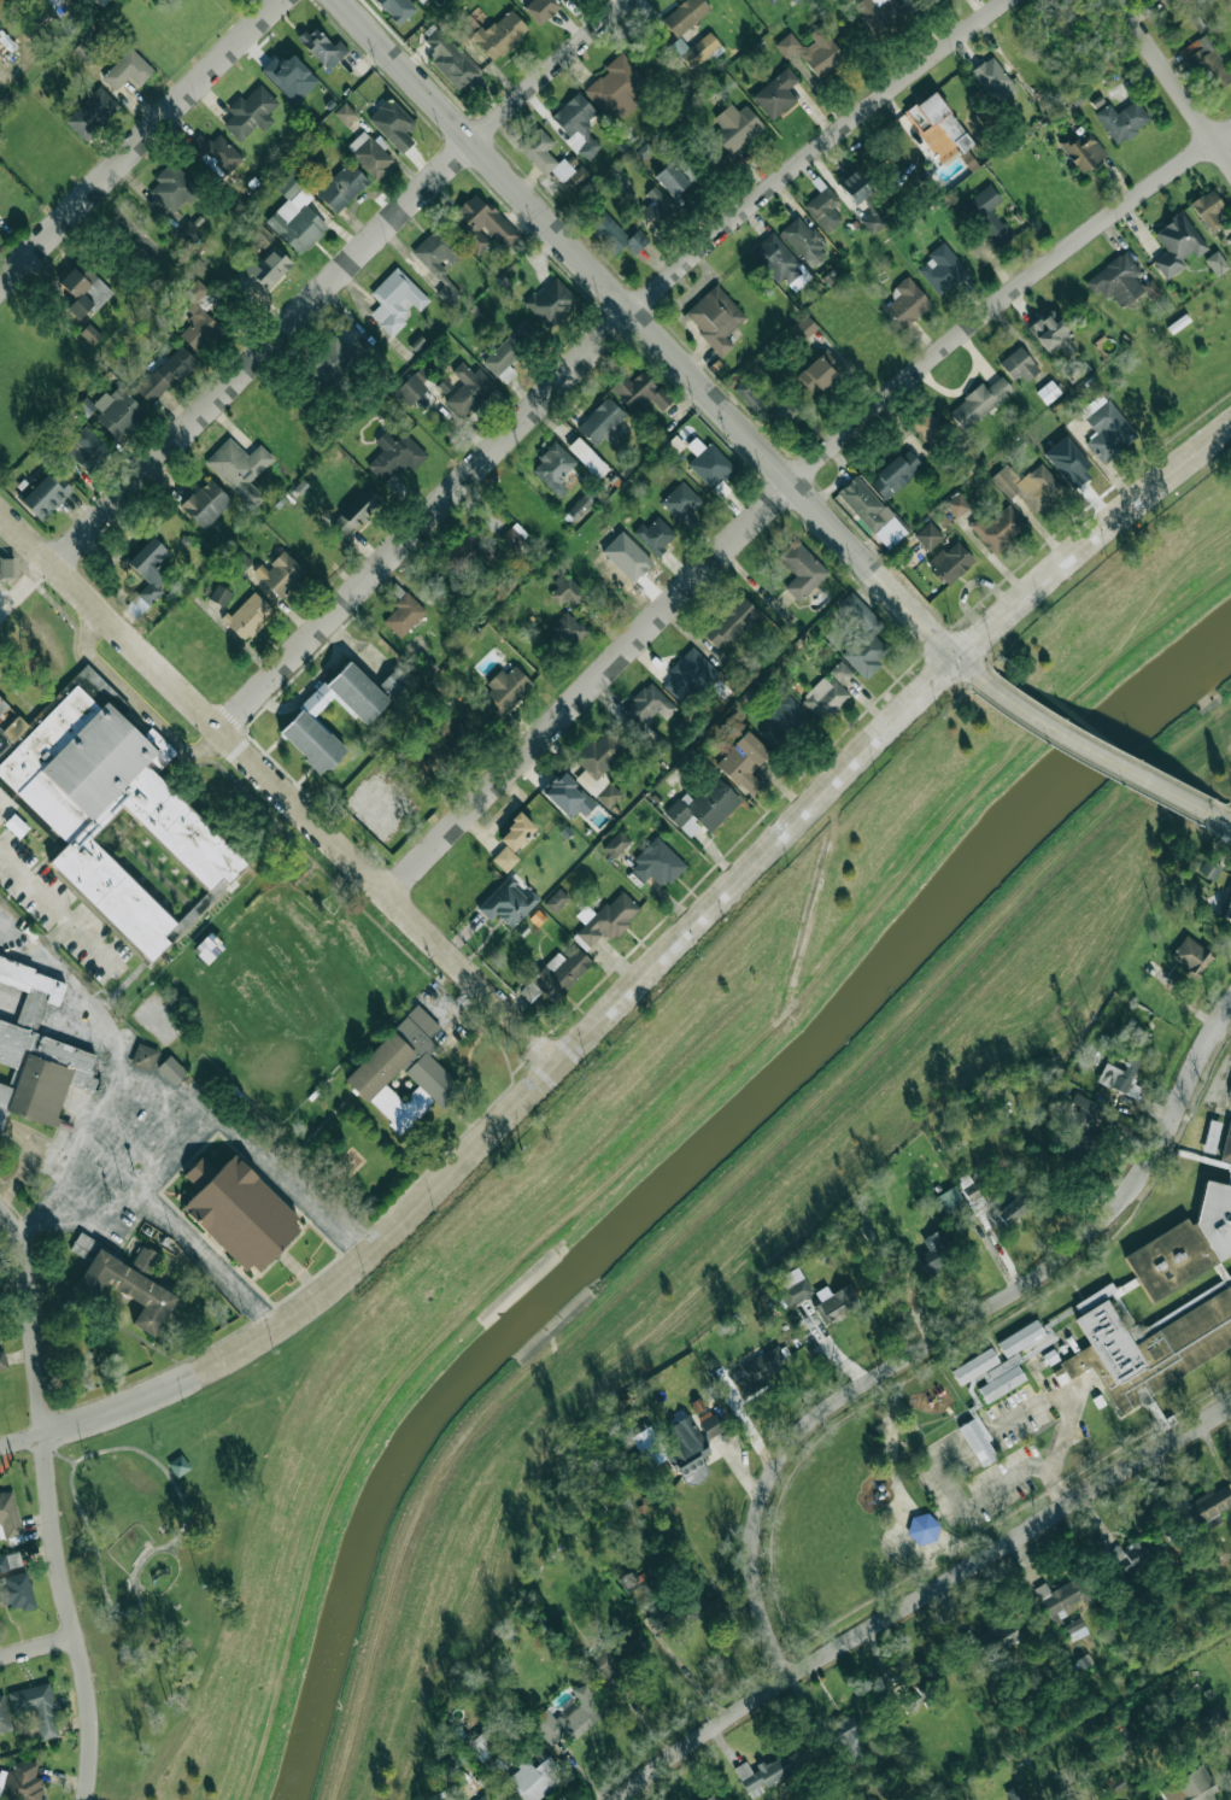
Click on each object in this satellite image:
building: (99, 1)
building: (770, 1)
building: (52, 2)
building: (1165, 2)
building: (398, 7)
building: (540, 8)
building: (877, 12)
building: (685, 14)
building: (491, 33)
building: (87, 47)
building: (322, 47)
building: (701, 49)
building: (813, 51)
building: (449, 58)
building: (1208, 61)
building: (127, 69)
building: (289, 76)
building: (993, 80)
road: (1174, 80)
building: (775, 93)
building: (92, 112)
building: (250, 112)
building: (345, 113)
building: (938, 119)
building: (1121, 119)
building: (392, 123)
building: (576, 124)
building: (735, 127)
road: (140, 143)
building: (216, 151)
building: (1081, 151)
building: (369, 154)
building: (550, 159)
building: (670, 178)
building: (855, 184)
building: (341, 187)
building: (172, 188)
building: (656, 206)
building: (823, 207)
building: (1207, 210)
building: (989, 212)
building: (295, 216)
building: (873, 222)
building: (481, 224)
building: (188, 231)
building: (612, 231)
building: (803, 239)
building: (1176, 244)
building: (775, 259)
building: (440, 262)
building: (1215, 262)
building: (942, 268)
building: (262, 270)
road: (335, 275)
building: (1119, 281)
building: (82, 289)
building: (395, 300)
building: (551, 301)
building: (905, 303)
building: (199, 316)
building: (714, 317)
building: (802, 328)
building: (1051, 333)
building: (90, 334)
road: (661, 340)
road: (598, 346)
building: (510, 350)
building: (333, 359)
building: (1020, 365)
building: (820, 373)
building: (165, 374)
building: (412, 386)
building: (468, 388)
building: (640, 392)
building: (1048, 392)
building: (978, 401)
building: (764, 405)
building: (117, 411)
building: (600, 421)
building: (926, 426)
building: (1106, 428)
building: (86, 448)
building: (394, 455)
building: (587, 457)
building: (709, 465)
building: (239, 468)
building: (552, 468)
building: (895, 473)
road: (787, 485)
building: (1028, 485)
building: (43, 496)
building: (680, 500)
building: (205, 503)
building: (956, 504)
building: (354, 511)
building: (871, 511)
building: (998, 528)
building: (655, 534)
building: (927, 535)
building: (514, 537)
building: (461, 556)
building: (240, 559)
building: (950, 561)
building: (6, 567)
building: (801, 569)
building: (148, 573)
building: (280, 574)
road: (27, 588)
building: (565, 590)
building: (219, 594)
building: (247, 615)
building: (403, 615)
building: (729, 622)
building: (569, 629)
building: (861, 637)
building: (690, 674)
building: (393, 681)
building: (506, 690)
building: (827, 693)
road: (136, 704)
building: (647, 705)
building: (303, 721)
building: (782, 721)
building: (657, 744)
building: (445, 745)
building: (599, 752)
road: (1097, 756)
building: (743, 762)
building: (591, 781)
road: (277, 785)
building: (567, 795)
building: (608, 795)
building: (702, 807)
building: (118, 819)
road: (1224, 821)
building: (511, 840)
building: (616, 844)
building: (656, 863)
building: (1209, 869)
building: (556, 899)
building: (506, 902)
road: (714, 903)
building: (1226, 903)
road: (59, 911)
building: (609, 917)
road: (34, 942)
building: (207, 948)
building: (1190, 956)
building: (559, 973)
building: (31, 987)
road: (99, 1024)
building: (143, 1057)
building: (170, 1069)
building: (1120, 1071)
building: (41, 1072)
building: (403, 1072)
road: (115, 1089)
building: (1230, 1089)
building: (1081, 1113)
building: (1212, 1137)
building: (1227, 1149)
river: (684, 1166)
building: (969, 1190)
building: (950, 1200)
building: (1012, 1209)
building: (239, 1212)
road: (39, 1213)
building: (82, 1244)
building: (1186, 1245)
building: (934, 1251)
road: (206, 1259)
building: (145, 1260)
building: (792, 1286)
building: (128, 1289)
building: (836, 1300)
road: (949, 1332)
building: (1148, 1350)
building: (2, 1359)
building: (1009, 1360)
building: (974, 1366)
building: (758, 1368)
road: (1042, 1380)
road: (100, 1417)
road: (43, 1420)
building: (709, 1424)
road: (991, 1433)
building: (978, 1441)
building: (674, 1449)
road: (1056, 1488)
building: (1212, 1505)
building: (8, 1514)
building: (922, 1528)
park: (172, 1538)
building: (1133, 1553)
building: (10, 1560)
building: (627, 1581)
road: (134, 1585)
building: (16, 1590)
road: (920, 1596)
building: (1059, 1599)
building: (693, 1601)
building: (656, 1619)
building: (1075, 1628)
building: (990, 1640)
road: (37, 1647)
building: (615, 1653)
road: (690, 1677)
building: (36, 1707)
building: (4, 1716)
building: (1211, 1716)
building: (568, 1717)
road: (88, 1718)
road: (644, 1719)
building: (849, 1734)
building: (1122, 1740)
building: (481, 1746)
building: (535, 1757)
building: (763, 1773)
building: (534, 1778)
building: (20, 1782)
building: (1112, 1783)
building: (1190, 1787)
building: (1014, 1793)
building: (485, 1796)
building: (710, 1798)

